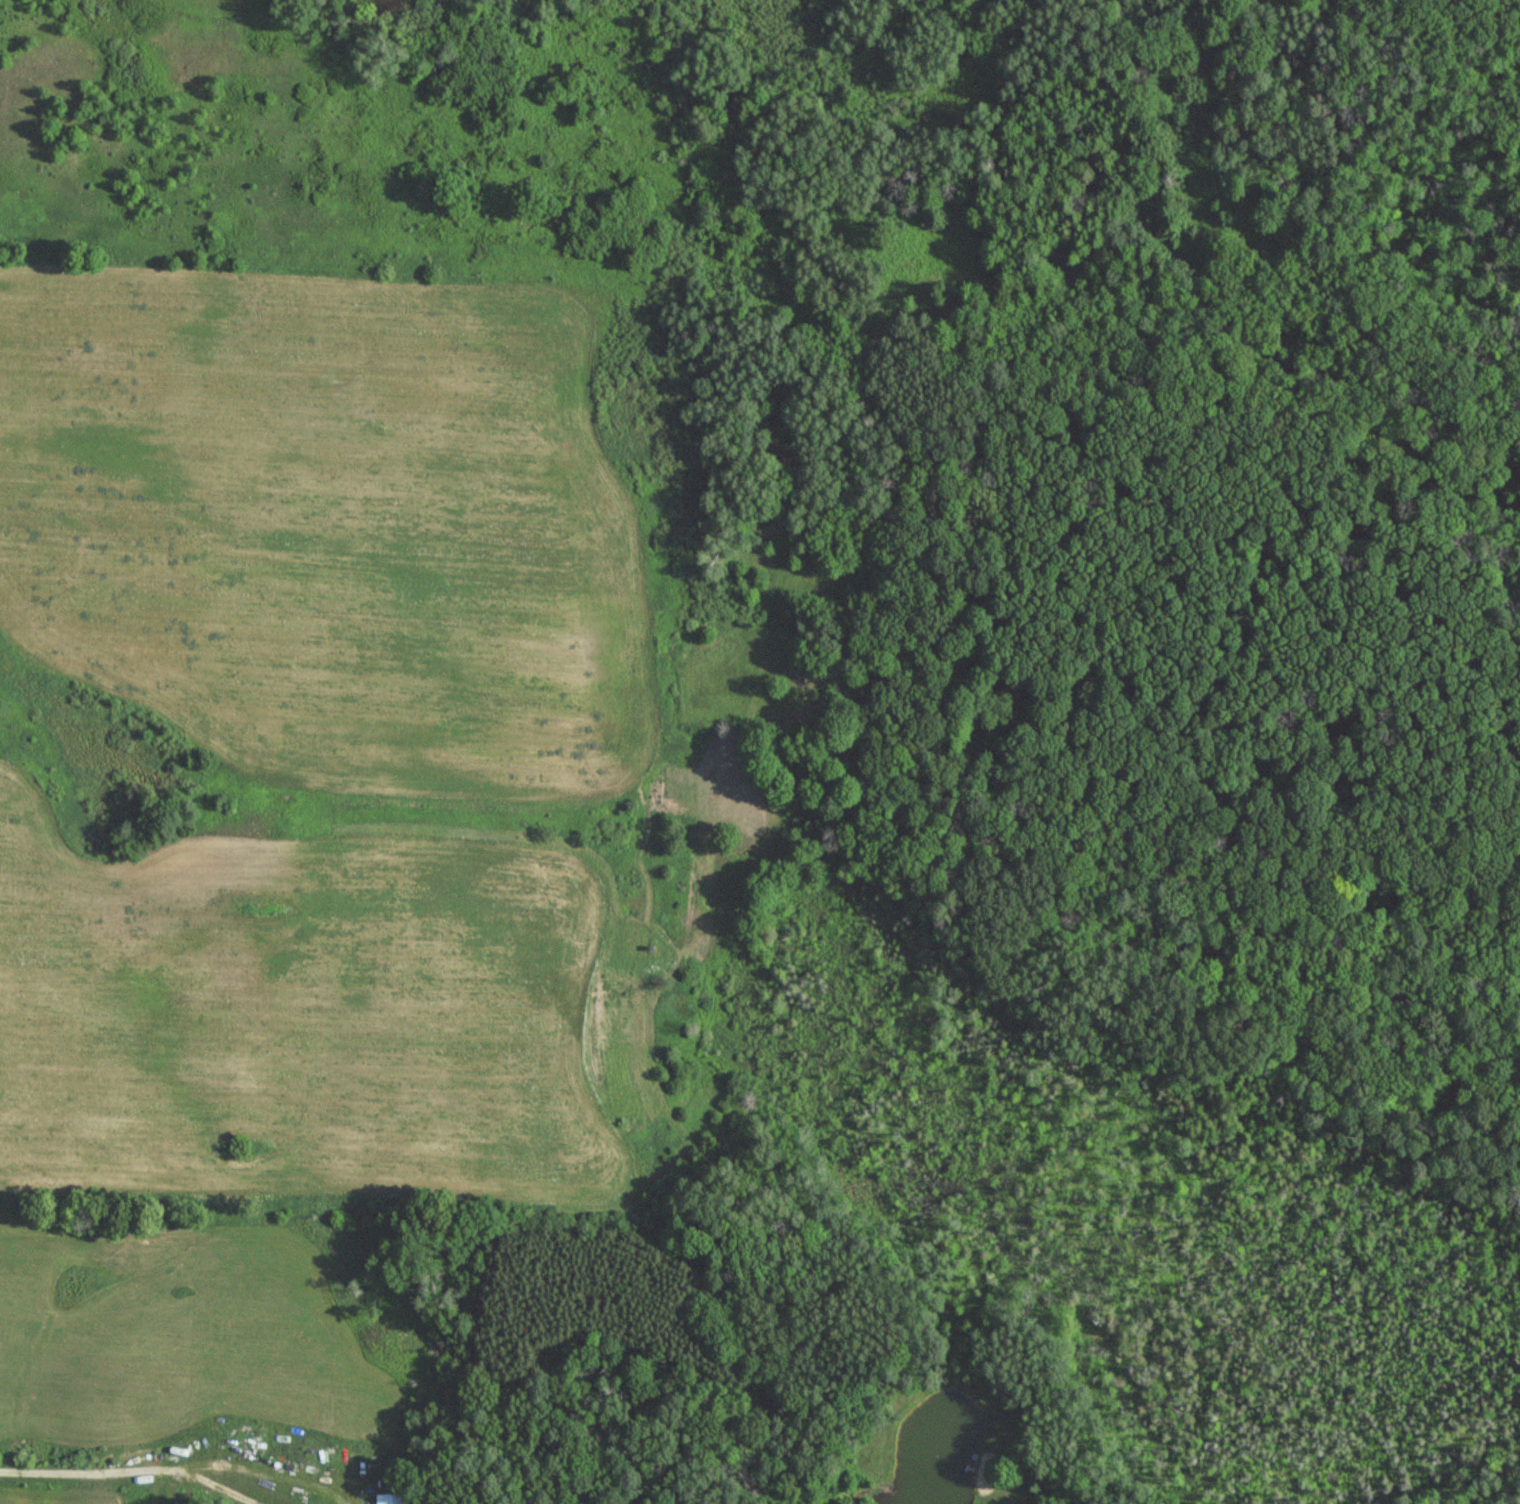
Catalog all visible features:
building: (391, 1498)

